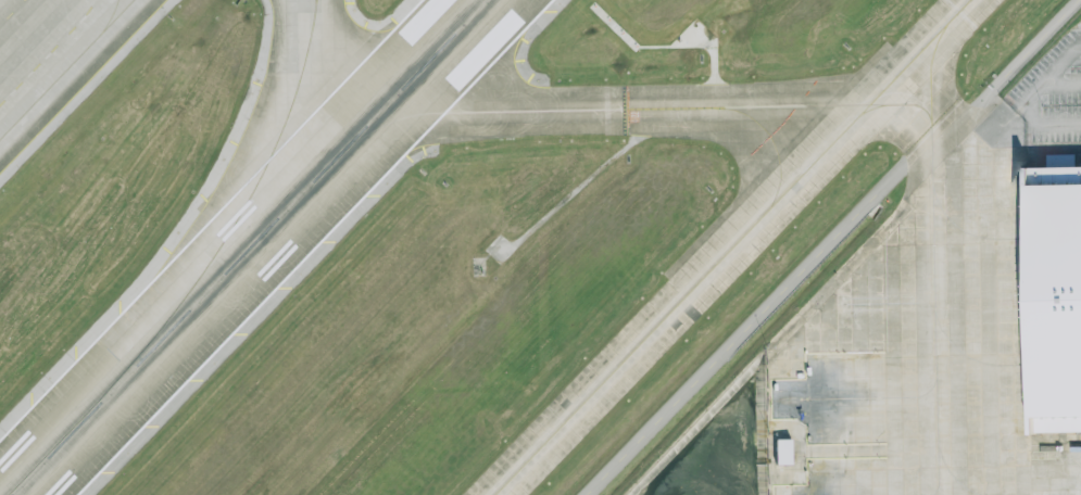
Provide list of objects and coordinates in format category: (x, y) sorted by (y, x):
airport taxiway: (315, 5)
airport taxiway: (109, 18)
road: (1080, 46)
airport apron: (45, 47)
airport taxiway: (66, 69)
road: (1059, 88)
road: (992, 89)
parking lot: (1053, 92)
road: (1029, 98)
airport taxiway: (638, 107)
airport taxiway: (871, 107)
airport taxiway: (770, 136)
building: (1059, 161)
airport taxiway: (251, 190)
airport taxiway: (963, 229)
airport runway: (248, 246)
airport taxiway: (730, 246)
airport: (540, 247)
airport taxiway: (933, 256)
building: (1051, 297)
road: (742, 332)
airport apron: (921, 353)
airport taxiway: (965, 354)
airport taxiway: (875, 396)
building: (783, 452)
airport taxiway: (950, 474)

